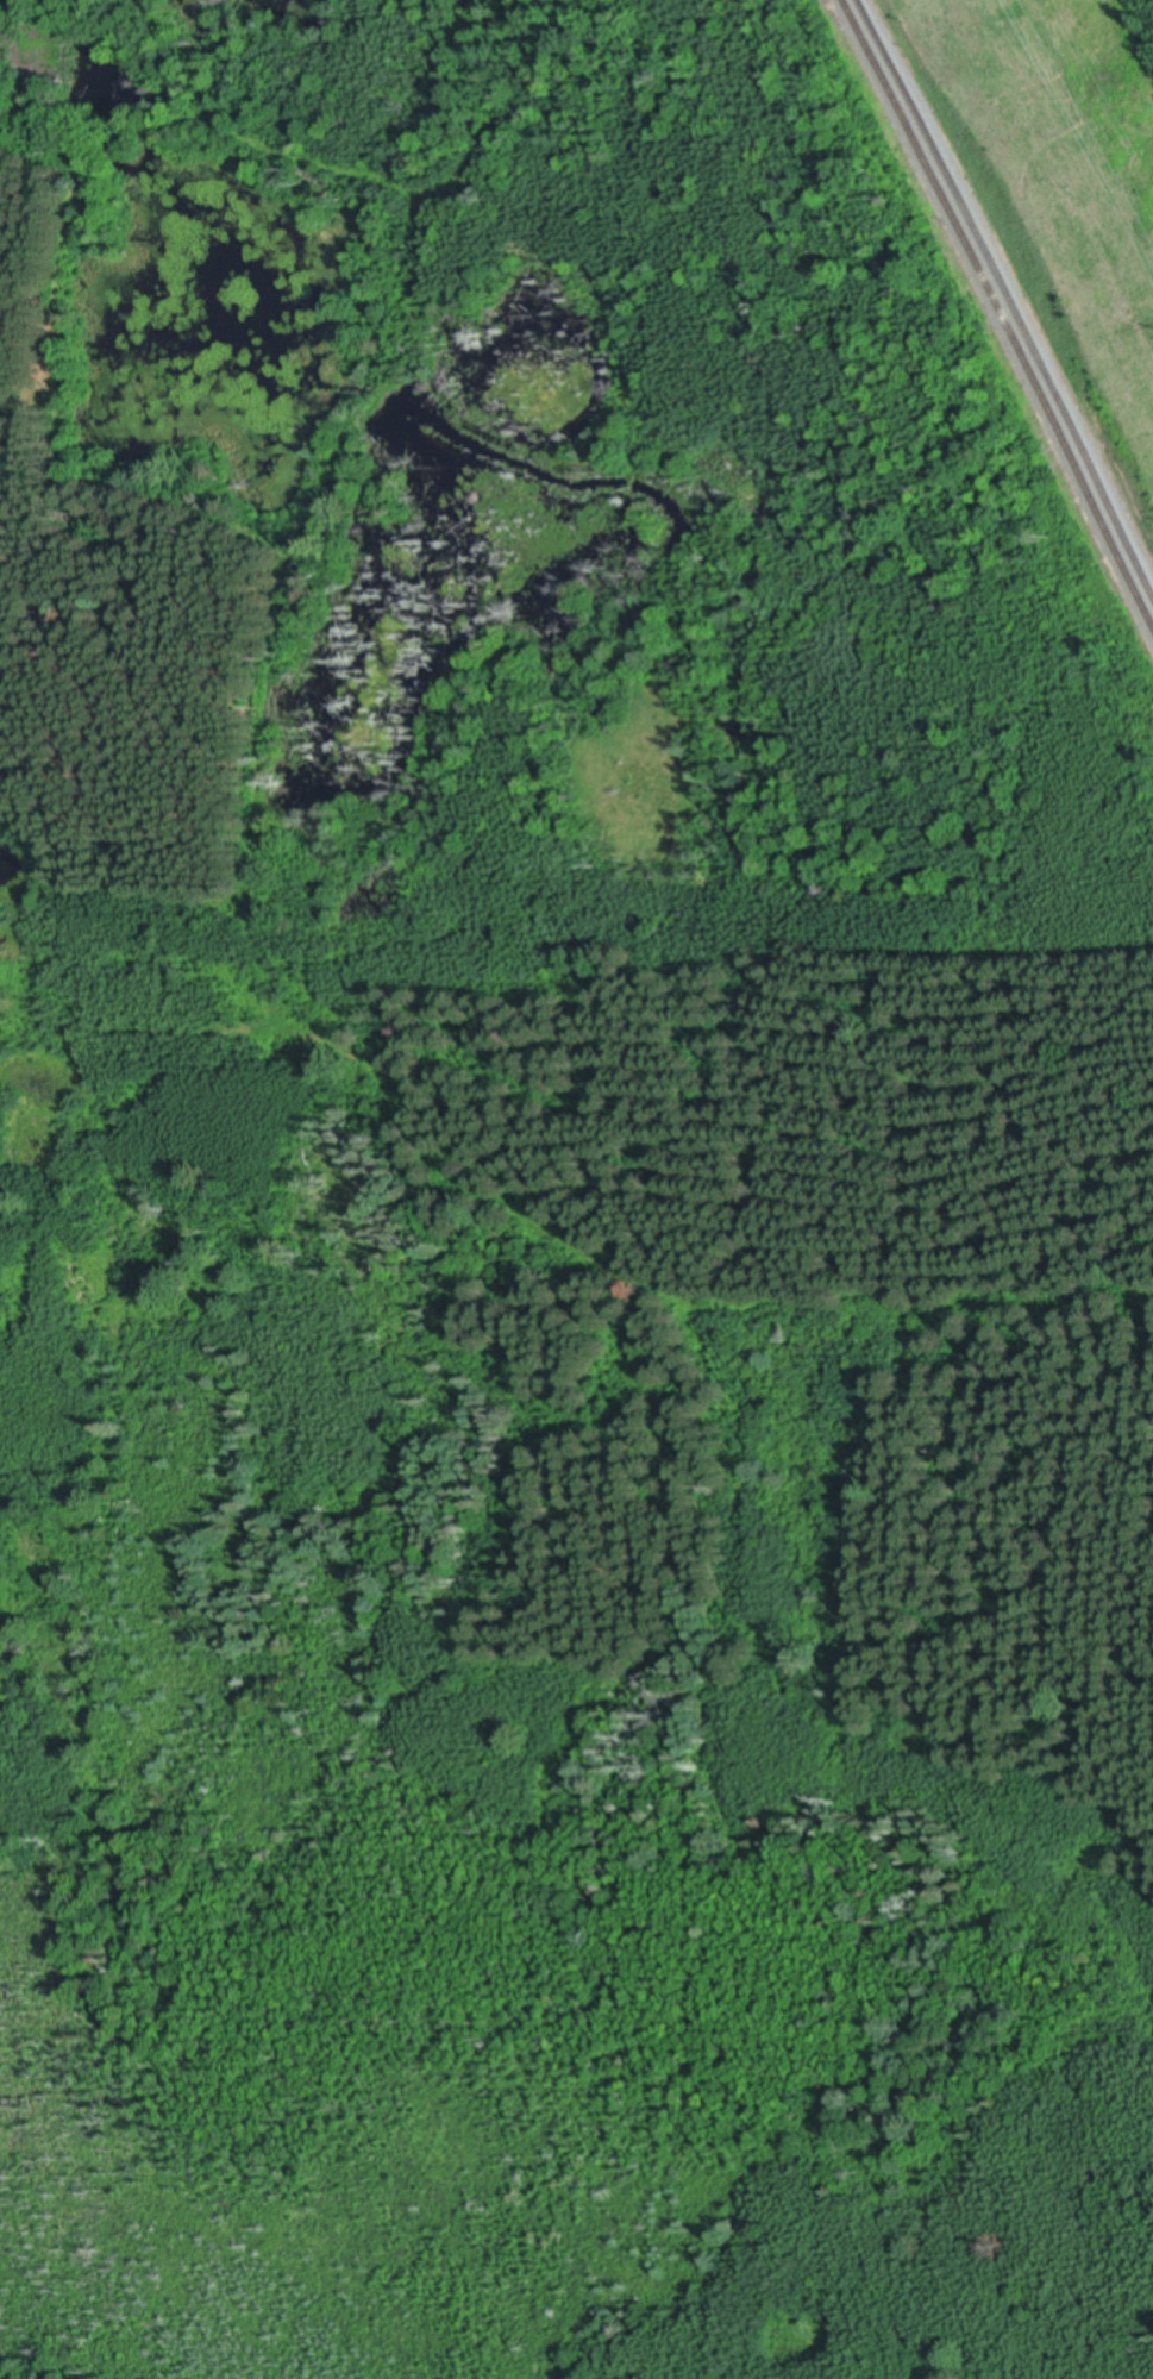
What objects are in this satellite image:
railway: (1003, 298)
railway: (994, 318)

